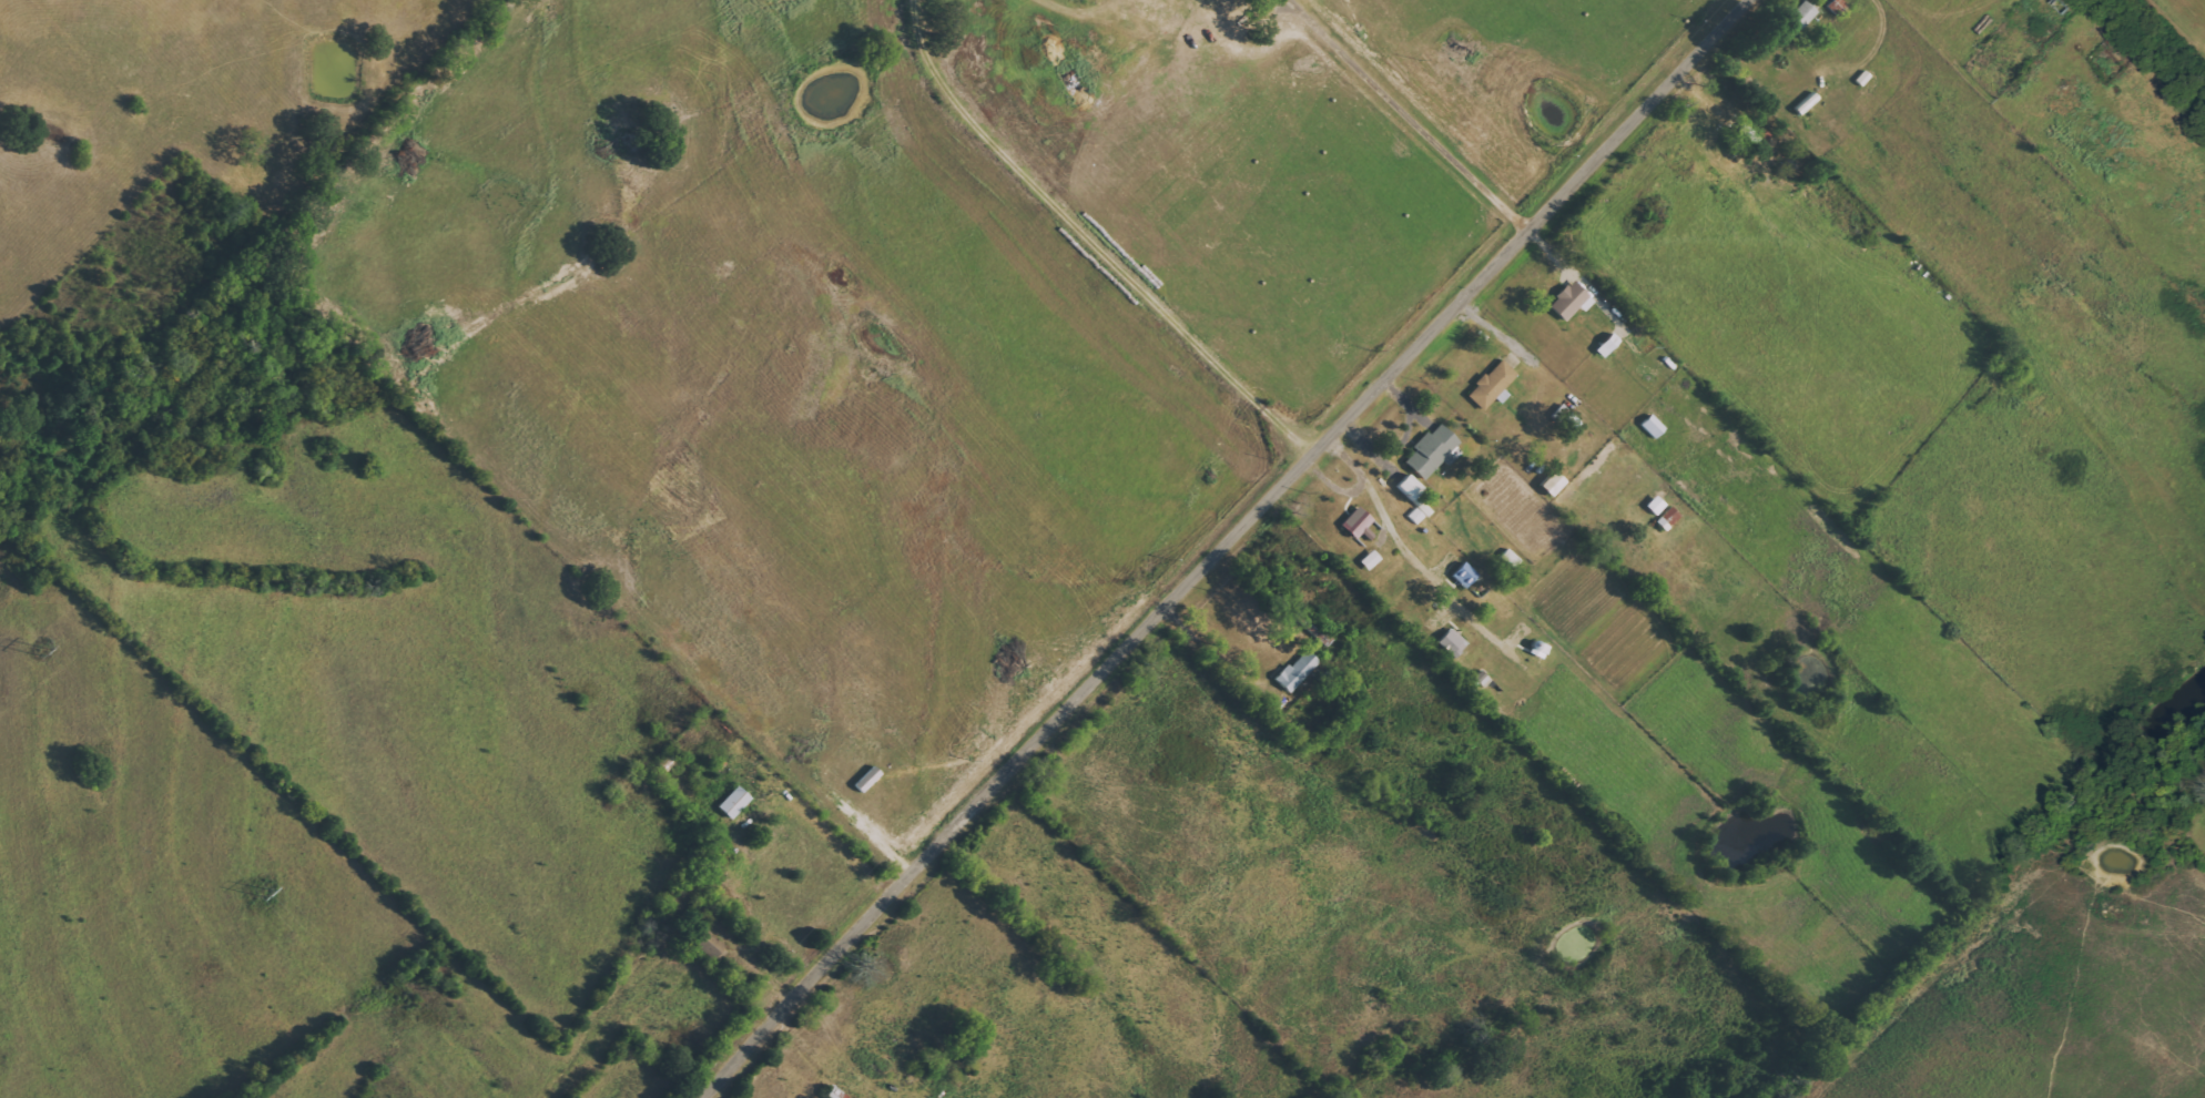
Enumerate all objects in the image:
building: (1838, 6)
building: (1803, 14)
road: (1408, 113)
building: (1573, 301)
building: (1494, 385)
building: (1434, 451)
building: (1416, 498)
building: (1657, 505)
building: (1670, 518)
building: (1359, 521)
road: (1217, 543)
building: (1372, 559)
building: (1466, 575)
building: (1454, 642)
power tower: (38, 643)
building: (1299, 670)
building: (735, 802)
power tower: (262, 888)
building: (711, 944)

